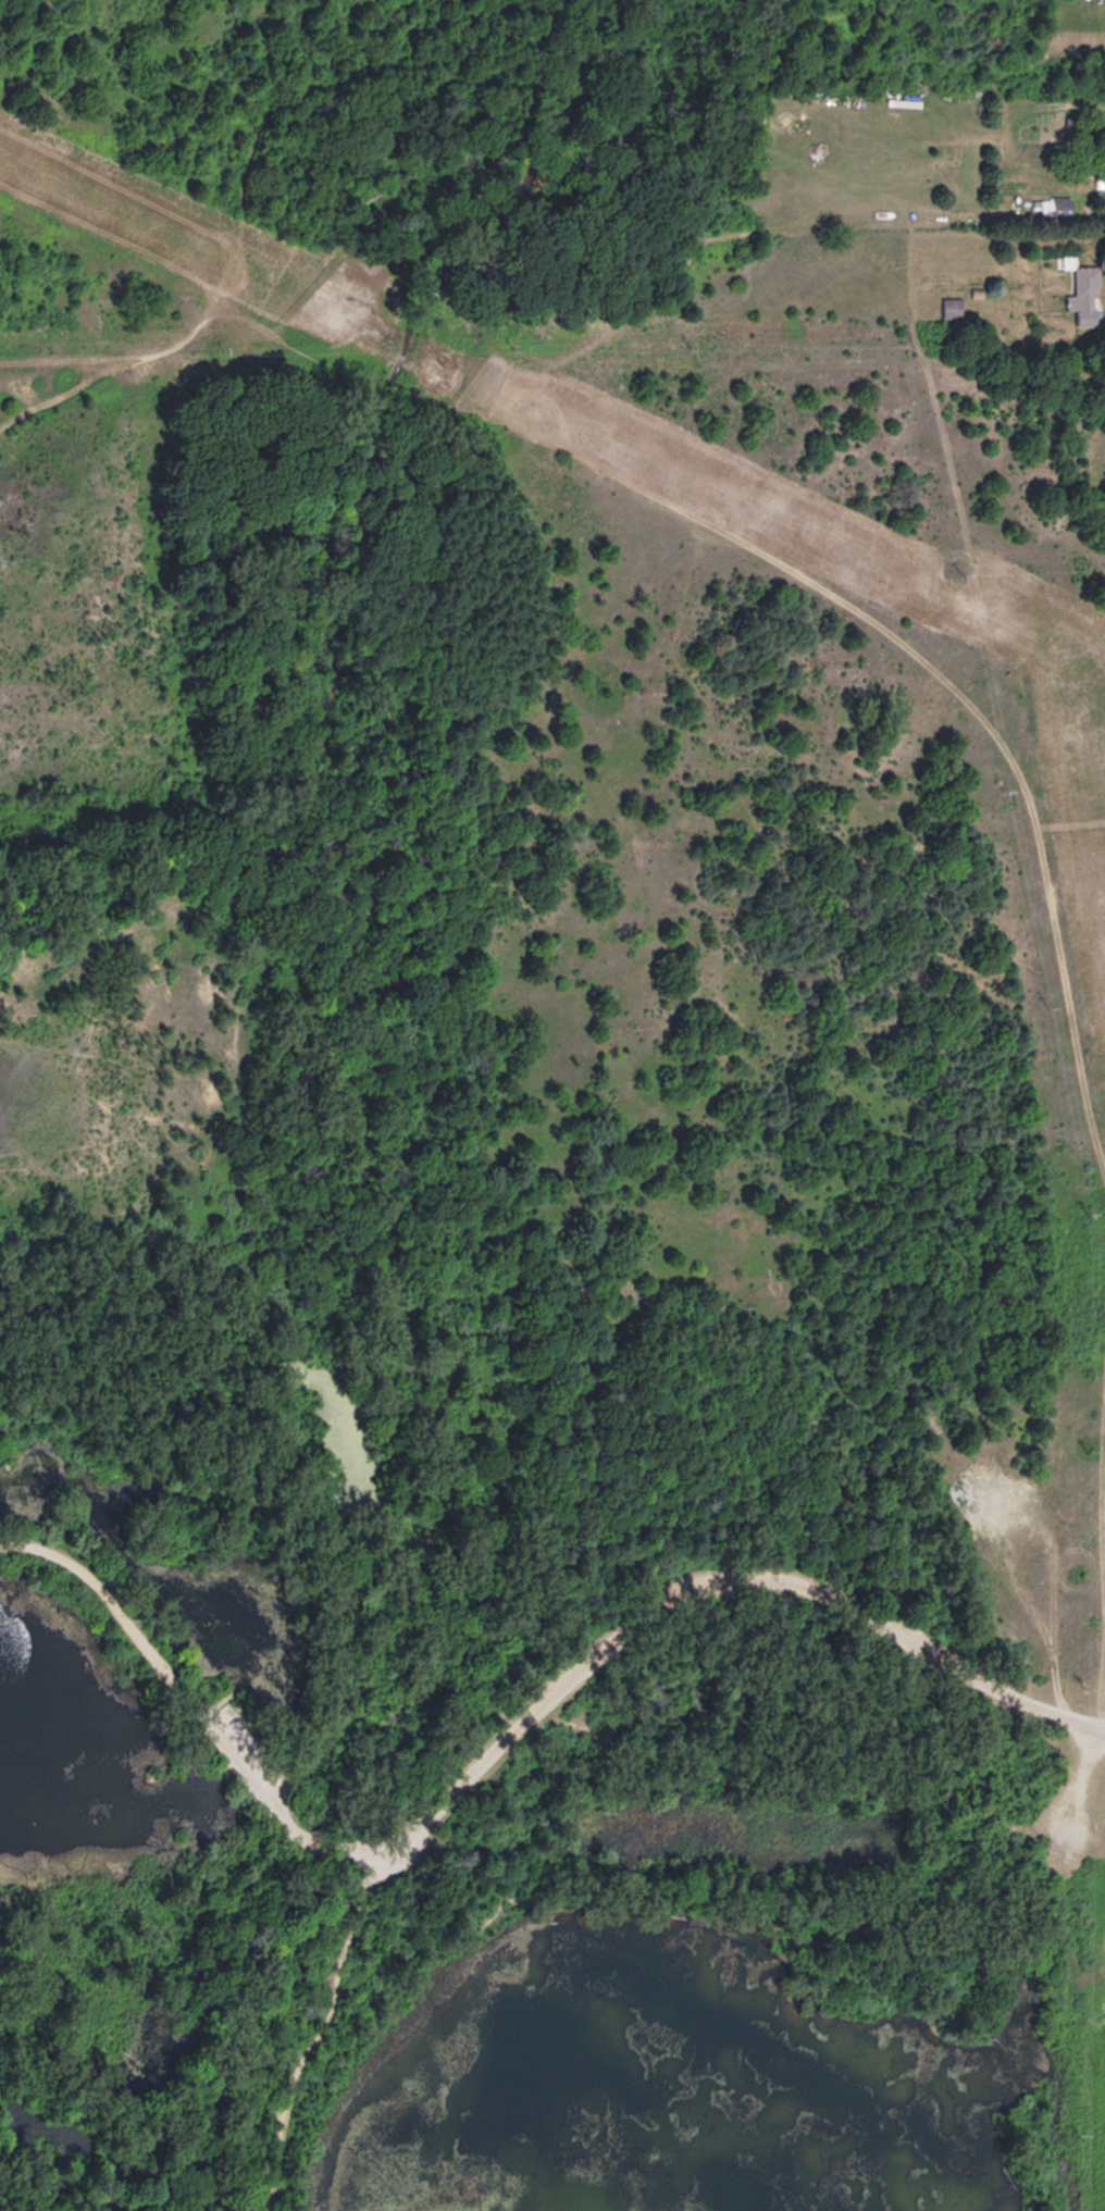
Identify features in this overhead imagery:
building: (1084, 298)
building: (952, 310)
road: (72, 388)
road: (723, 530)
road: (103, 1063)
park: (527, 1165)
road: (1097, 1526)
road: (510, 1743)
road: (309, 2036)

